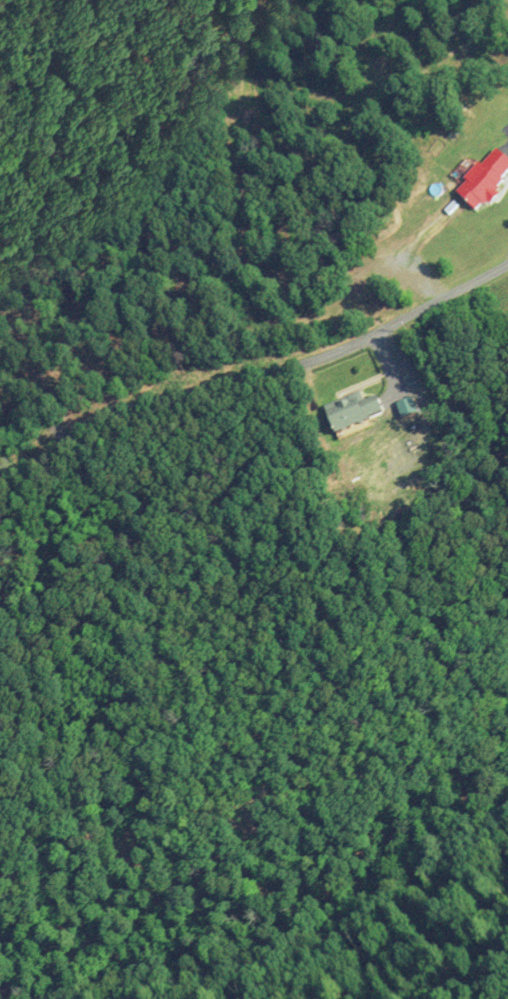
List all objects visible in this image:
building: (481, 179)
building: (347, 293)
road: (253, 374)
building: (347, 412)

